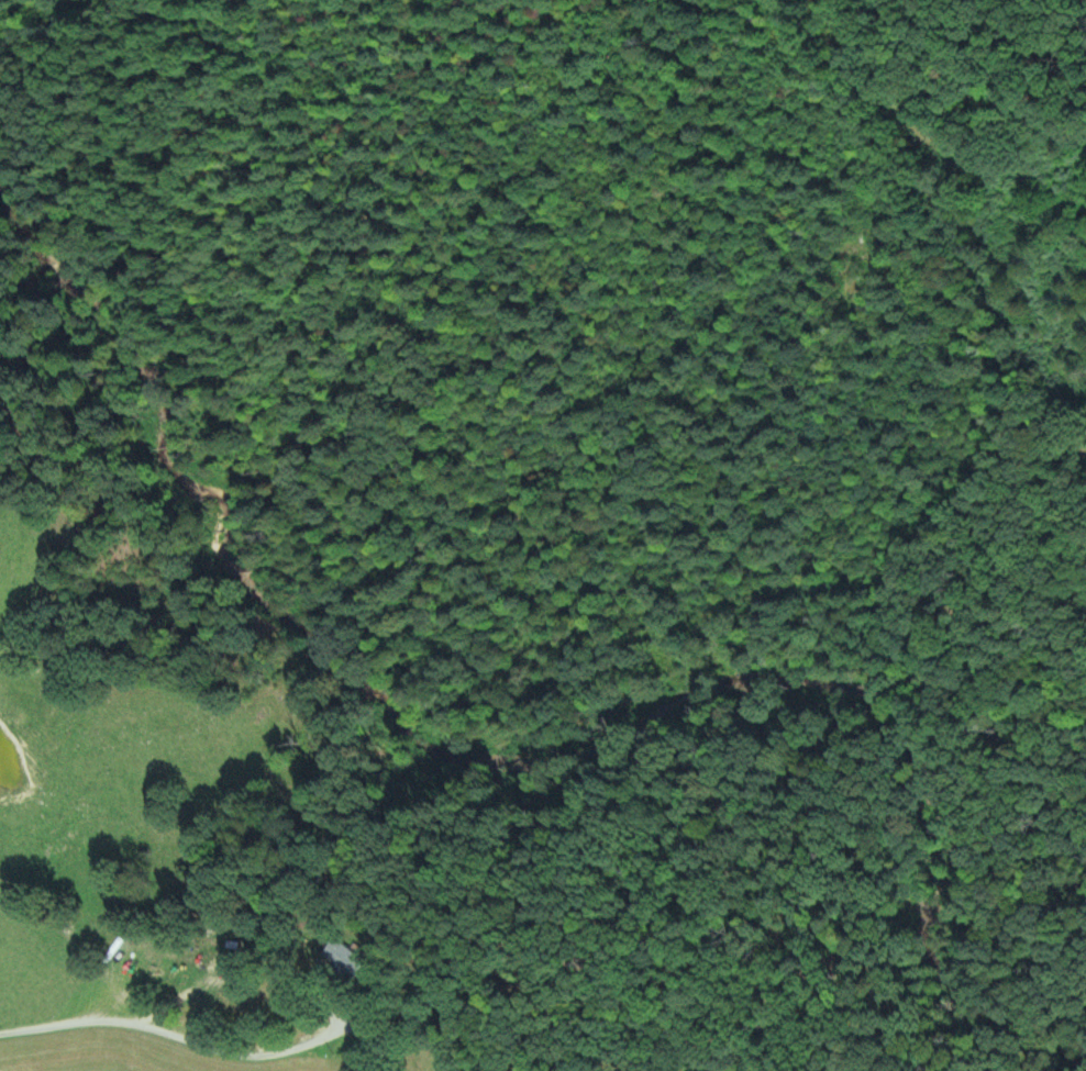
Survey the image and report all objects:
building: (351, 958)

